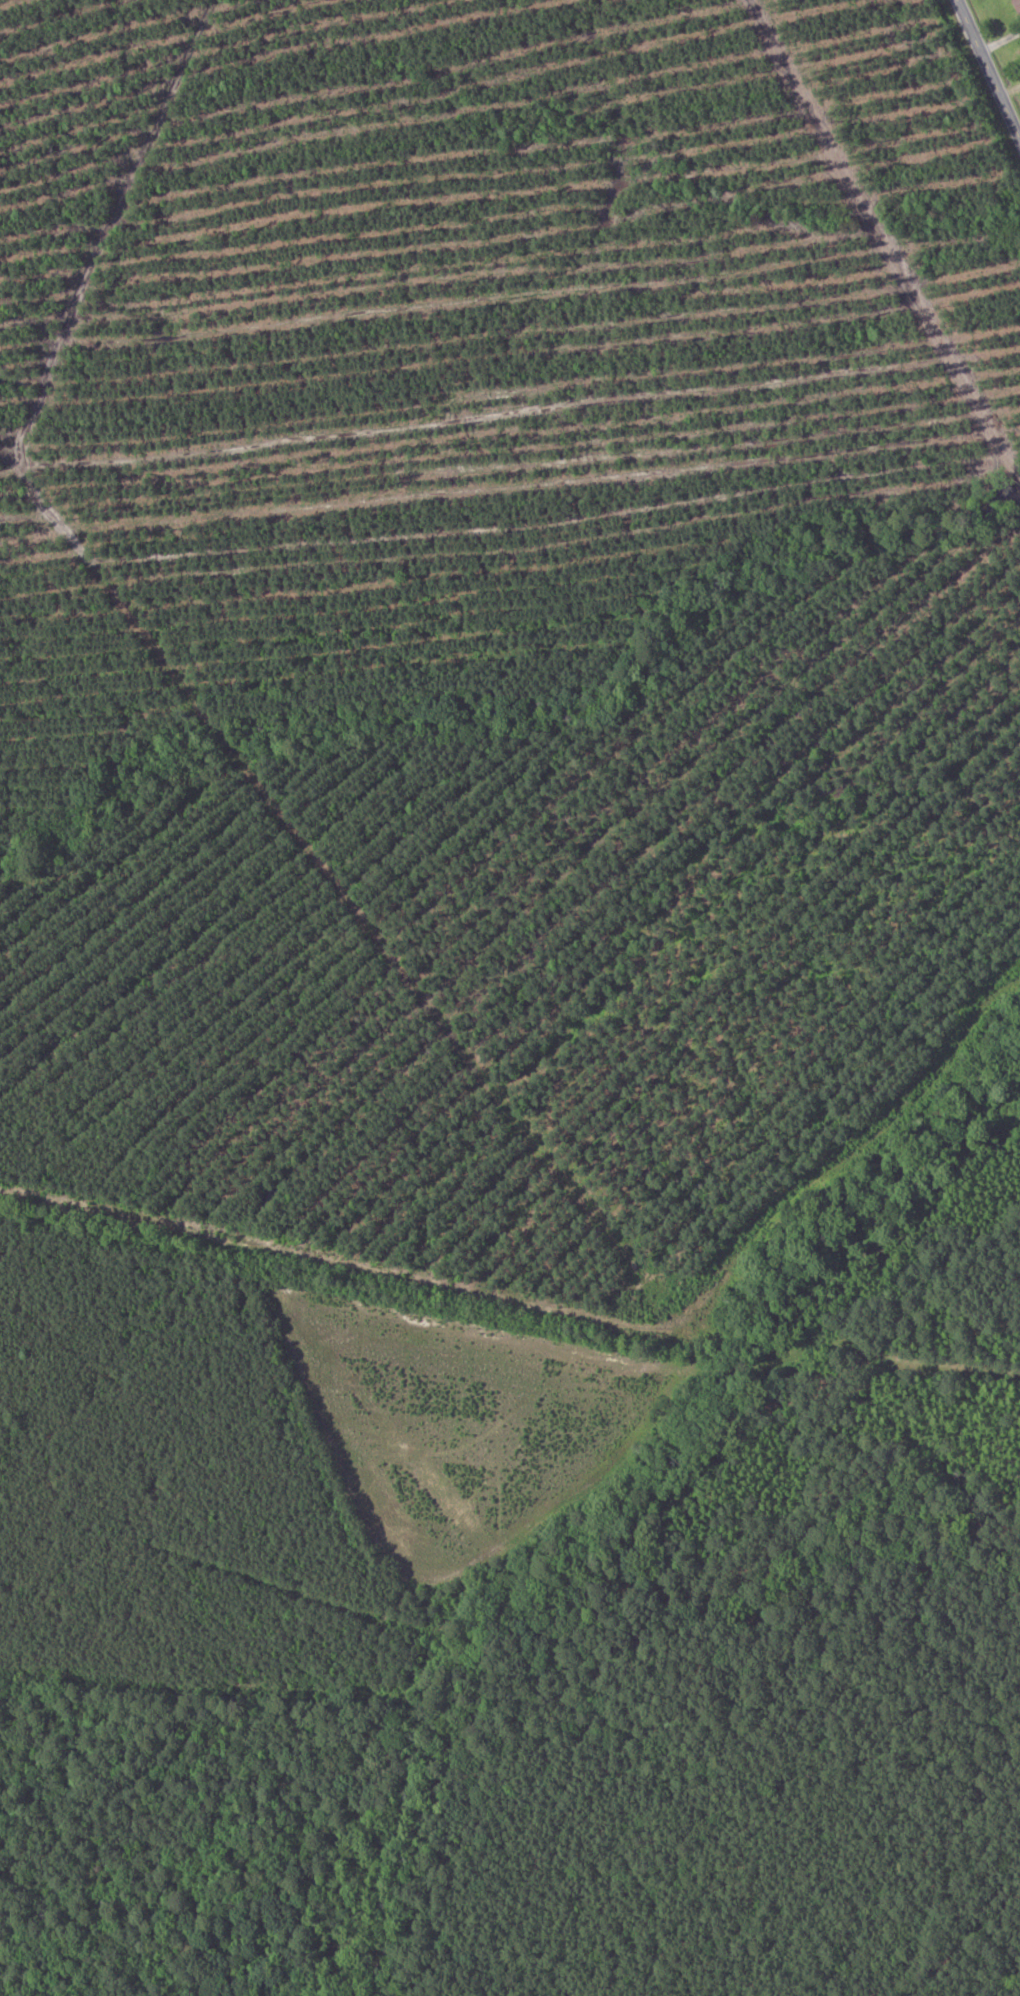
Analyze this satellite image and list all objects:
building: (1015, 5)
road: (988, 70)
road: (505, 1285)

